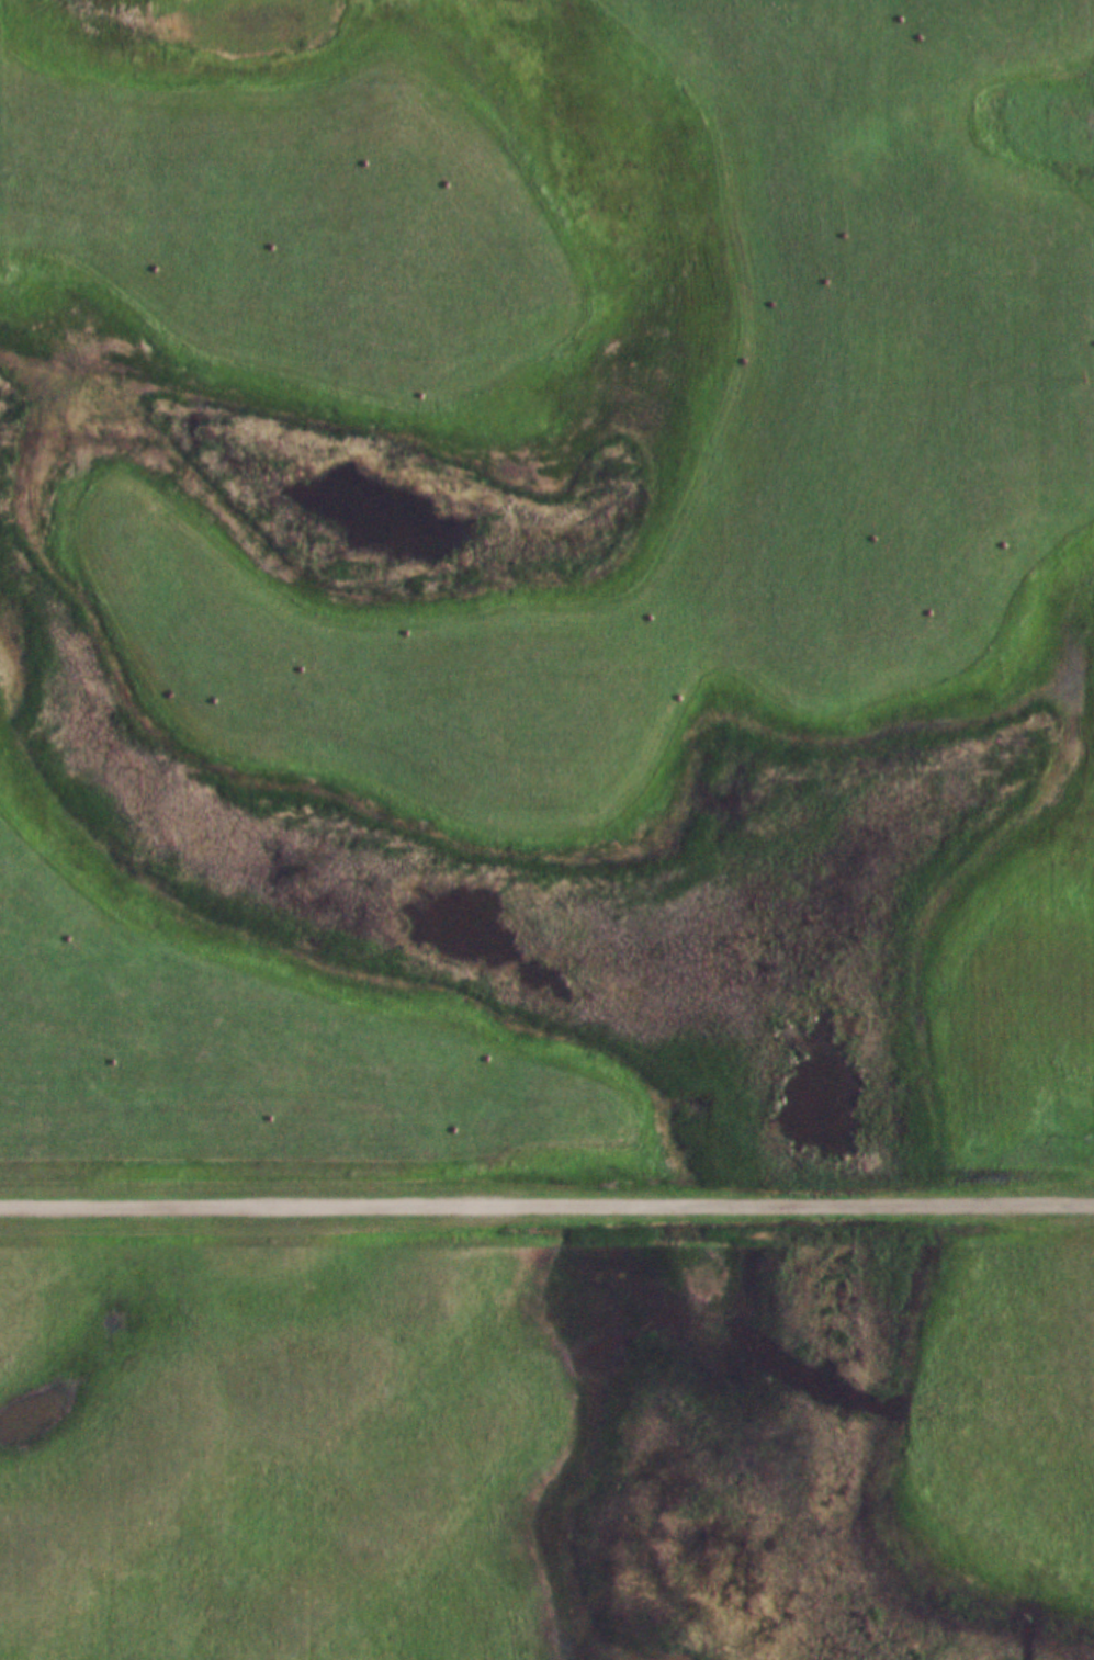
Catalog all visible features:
road: (546, 1205)

